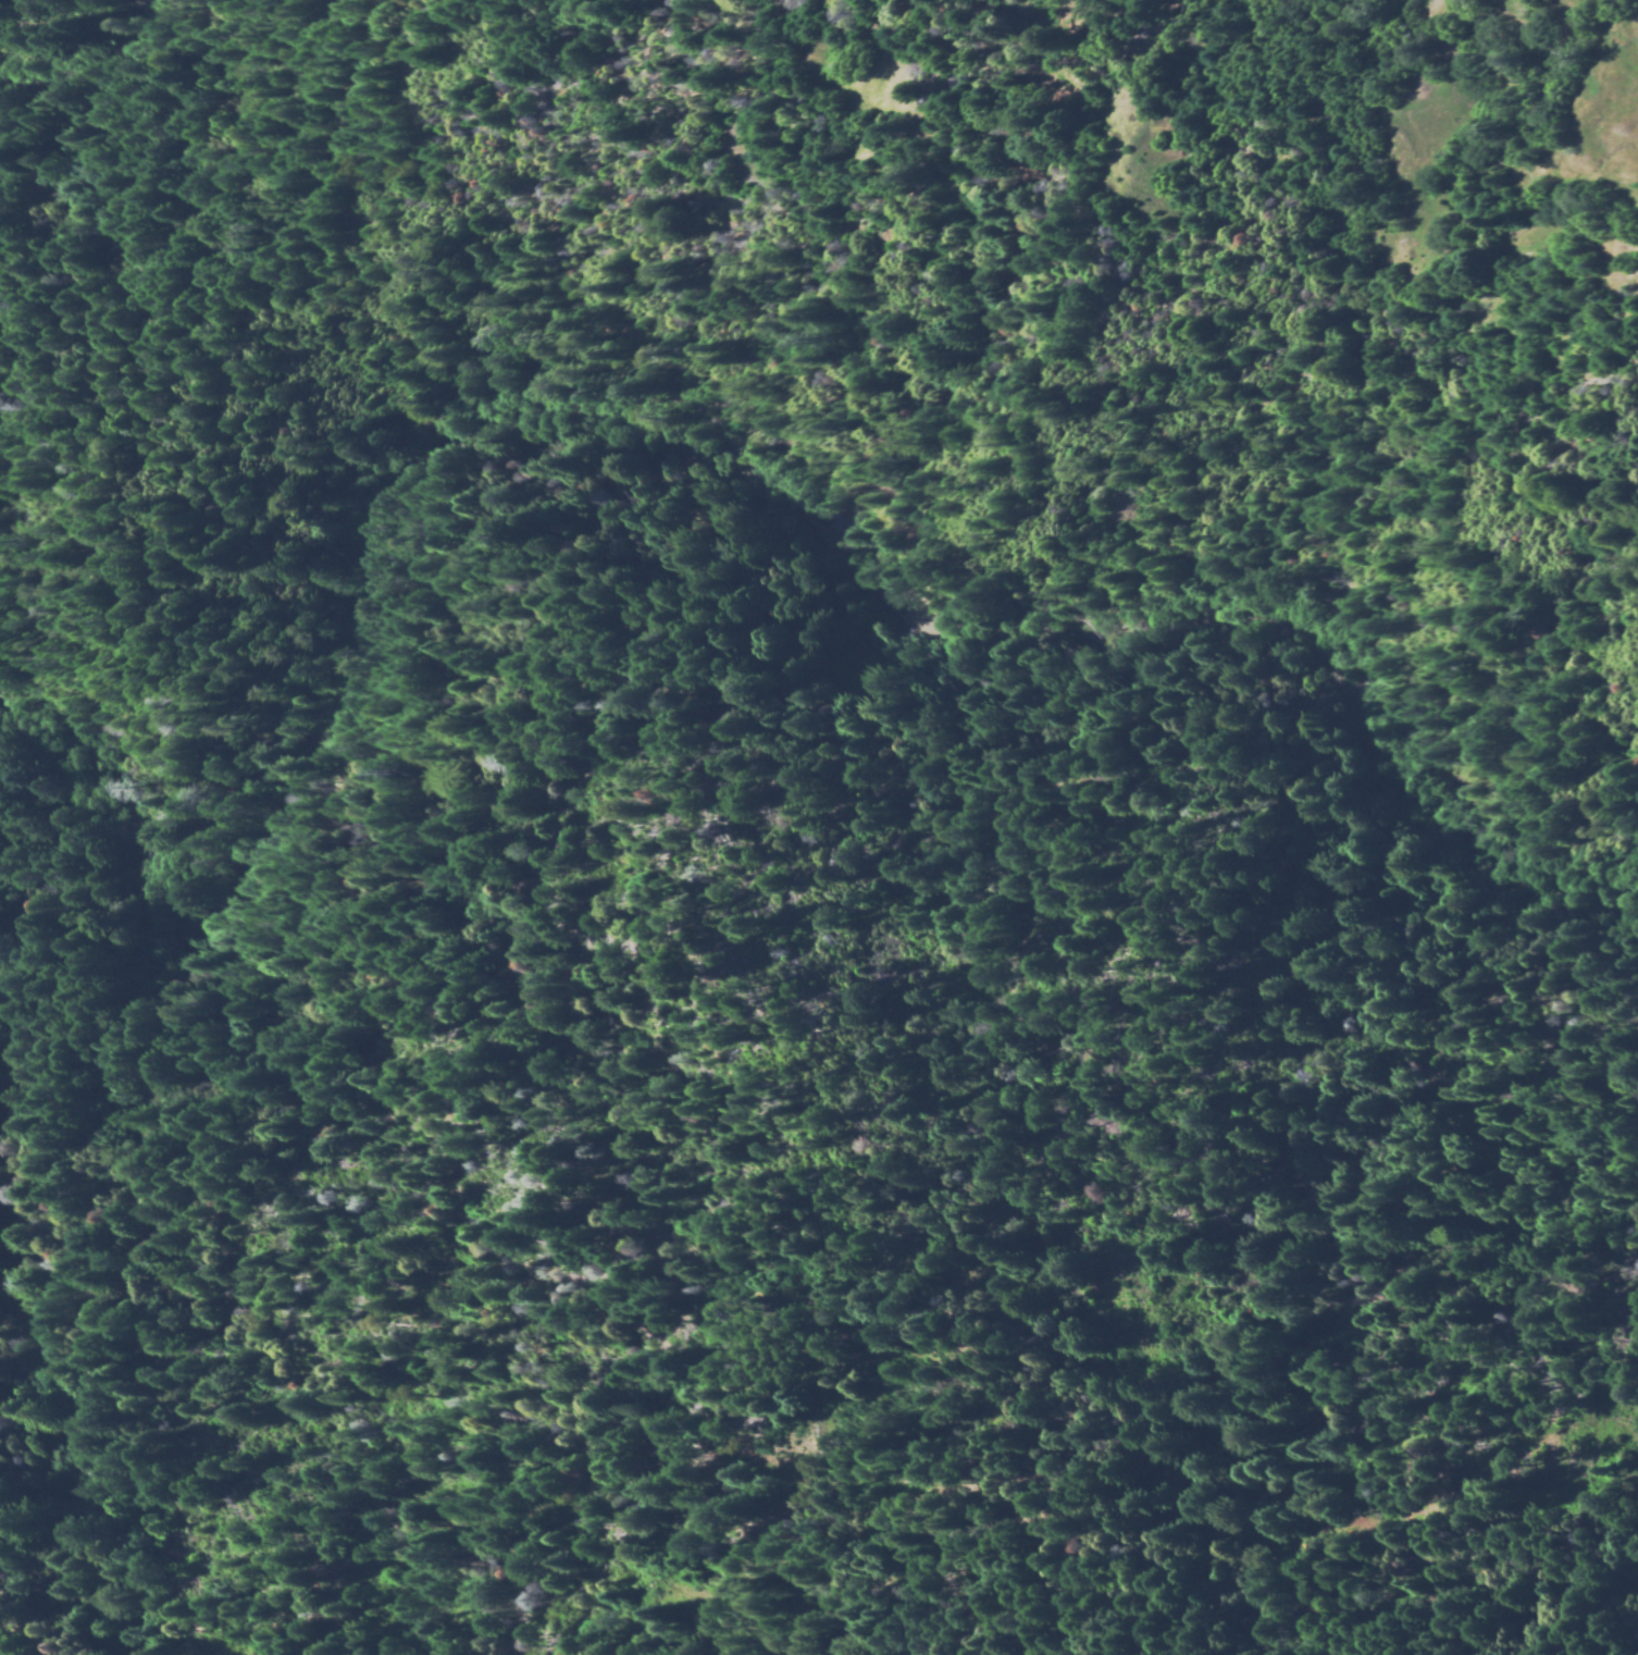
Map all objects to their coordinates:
building: (1143, 1646)

